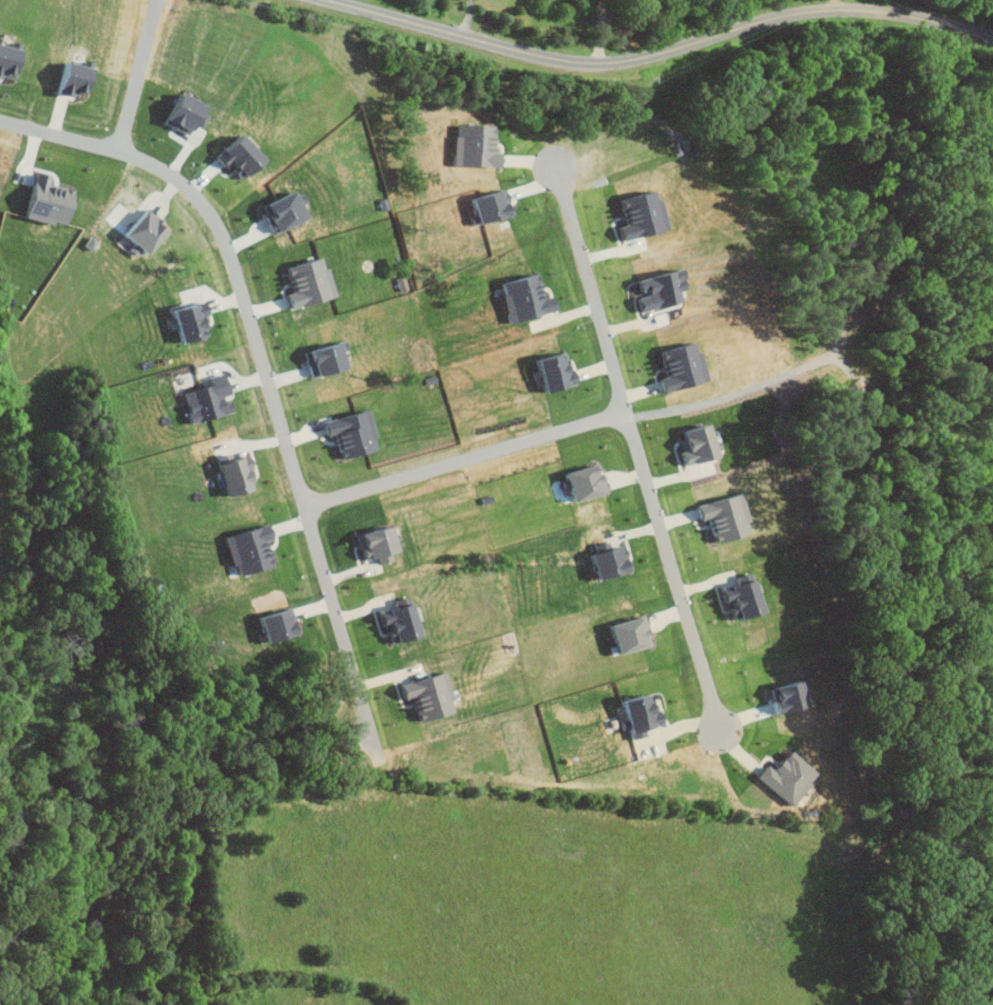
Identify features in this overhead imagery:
road: (836, 7)
road: (467, 20)
building: (6, 60)
road: (650, 60)
building: (66, 79)
road: (125, 136)
road: (592, 295)
building: (184, 319)
building: (201, 399)
road: (280, 421)
road: (587, 426)
building: (224, 476)
road: (672, 570)

